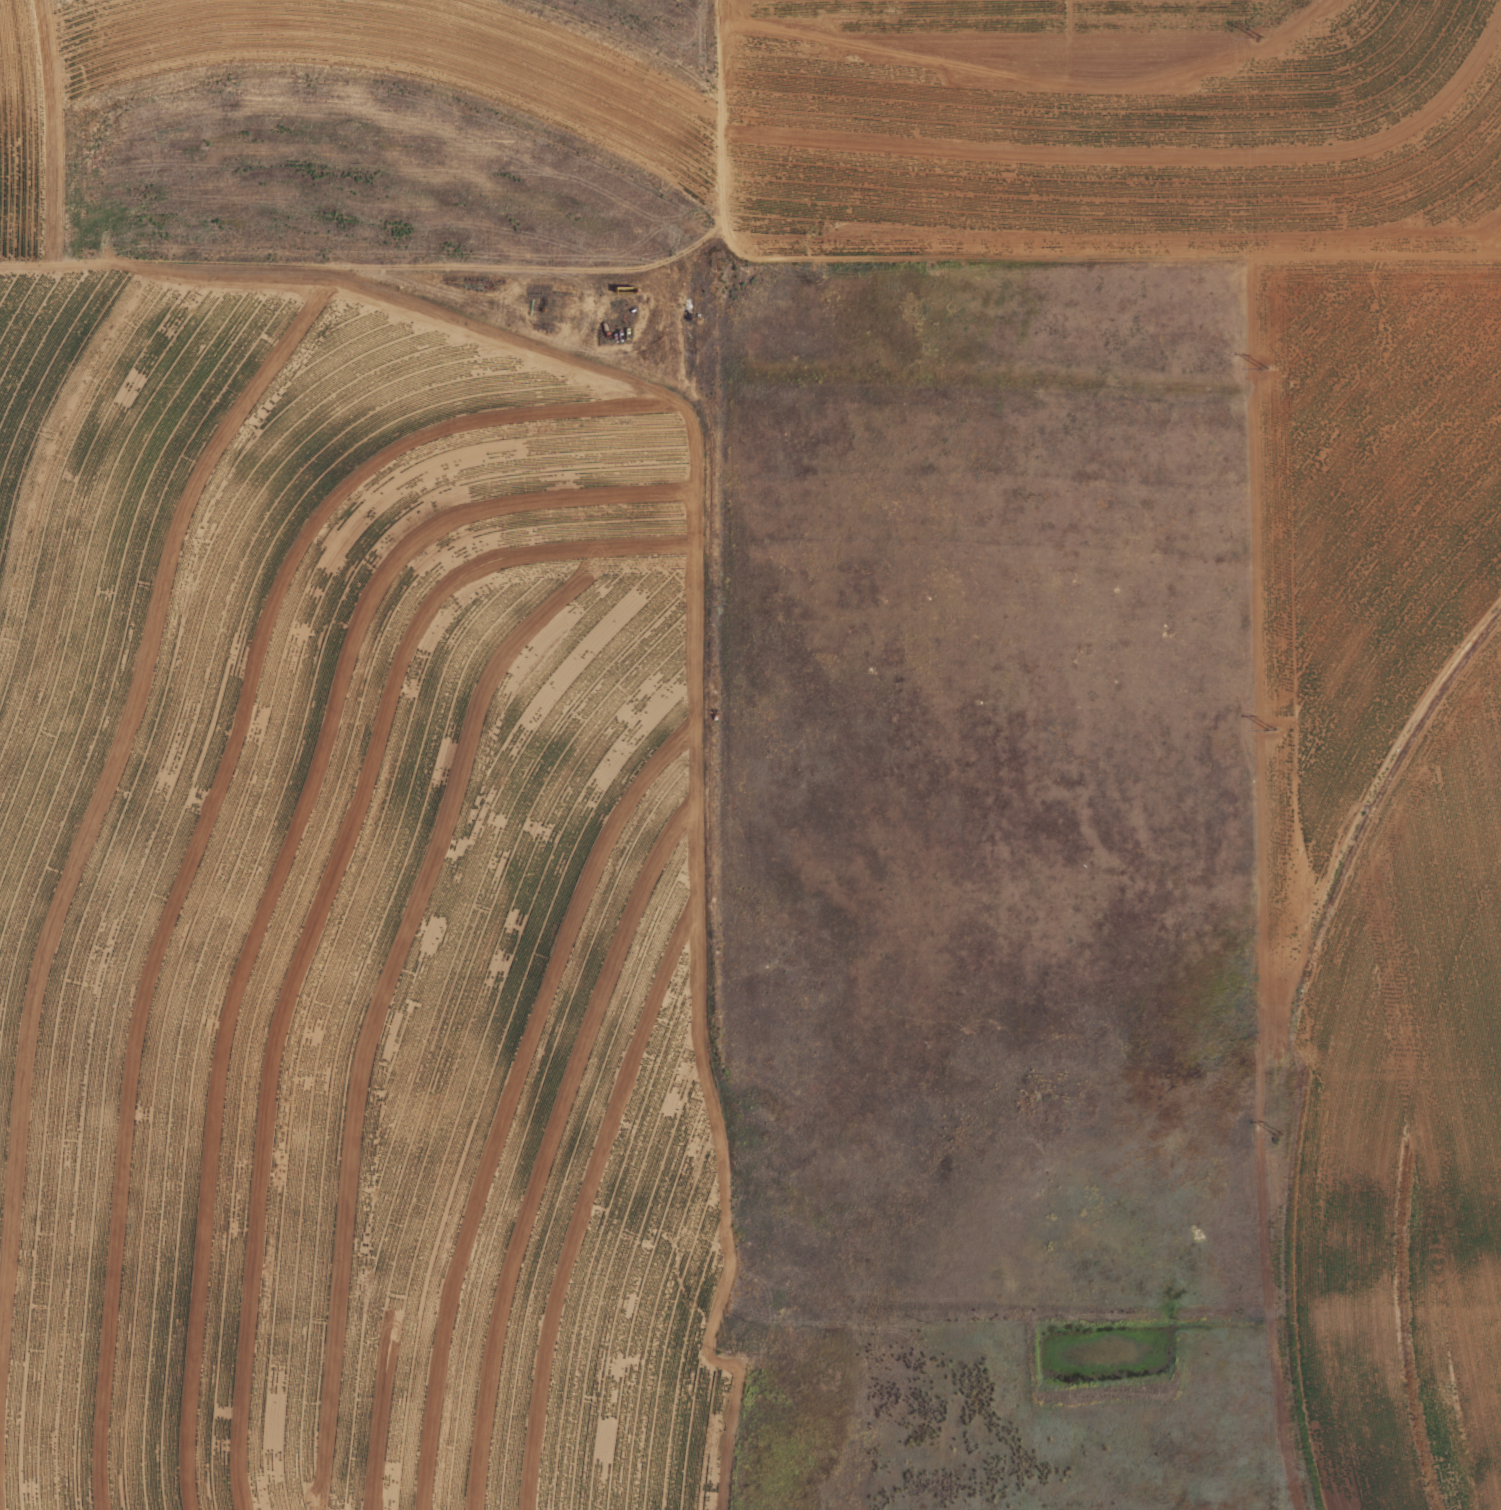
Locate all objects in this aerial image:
power tower: (1261, 36)
power tower: (1268, 366)
power tower: (1275, 728)
power tower: (1282, 1133)

